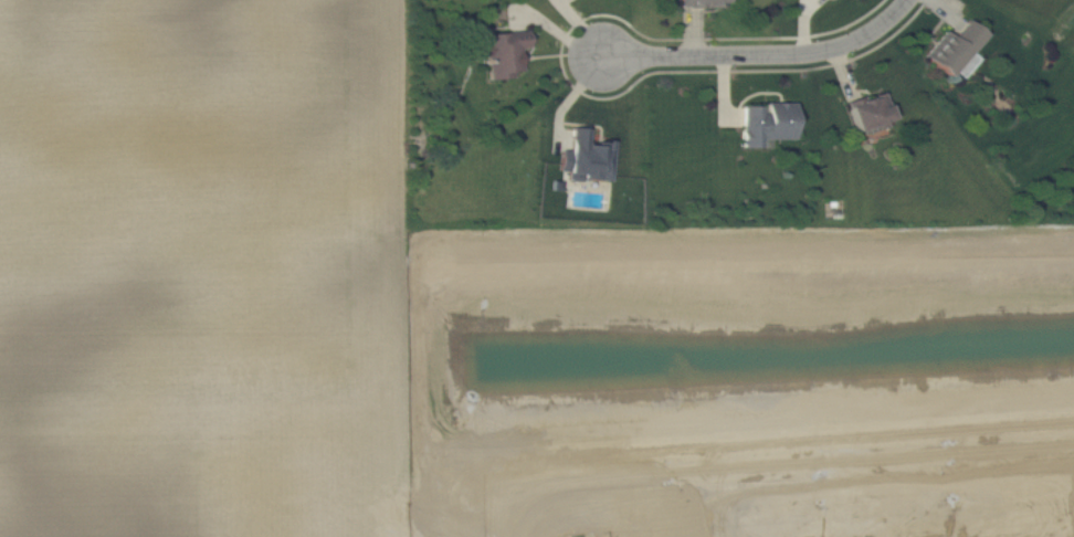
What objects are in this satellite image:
building: (705, 2)
building: (955, 46)
building: (503, 51)
road: (762, 56)
building: (967, 64)
building: (871, 109)
building: (768, 123)

